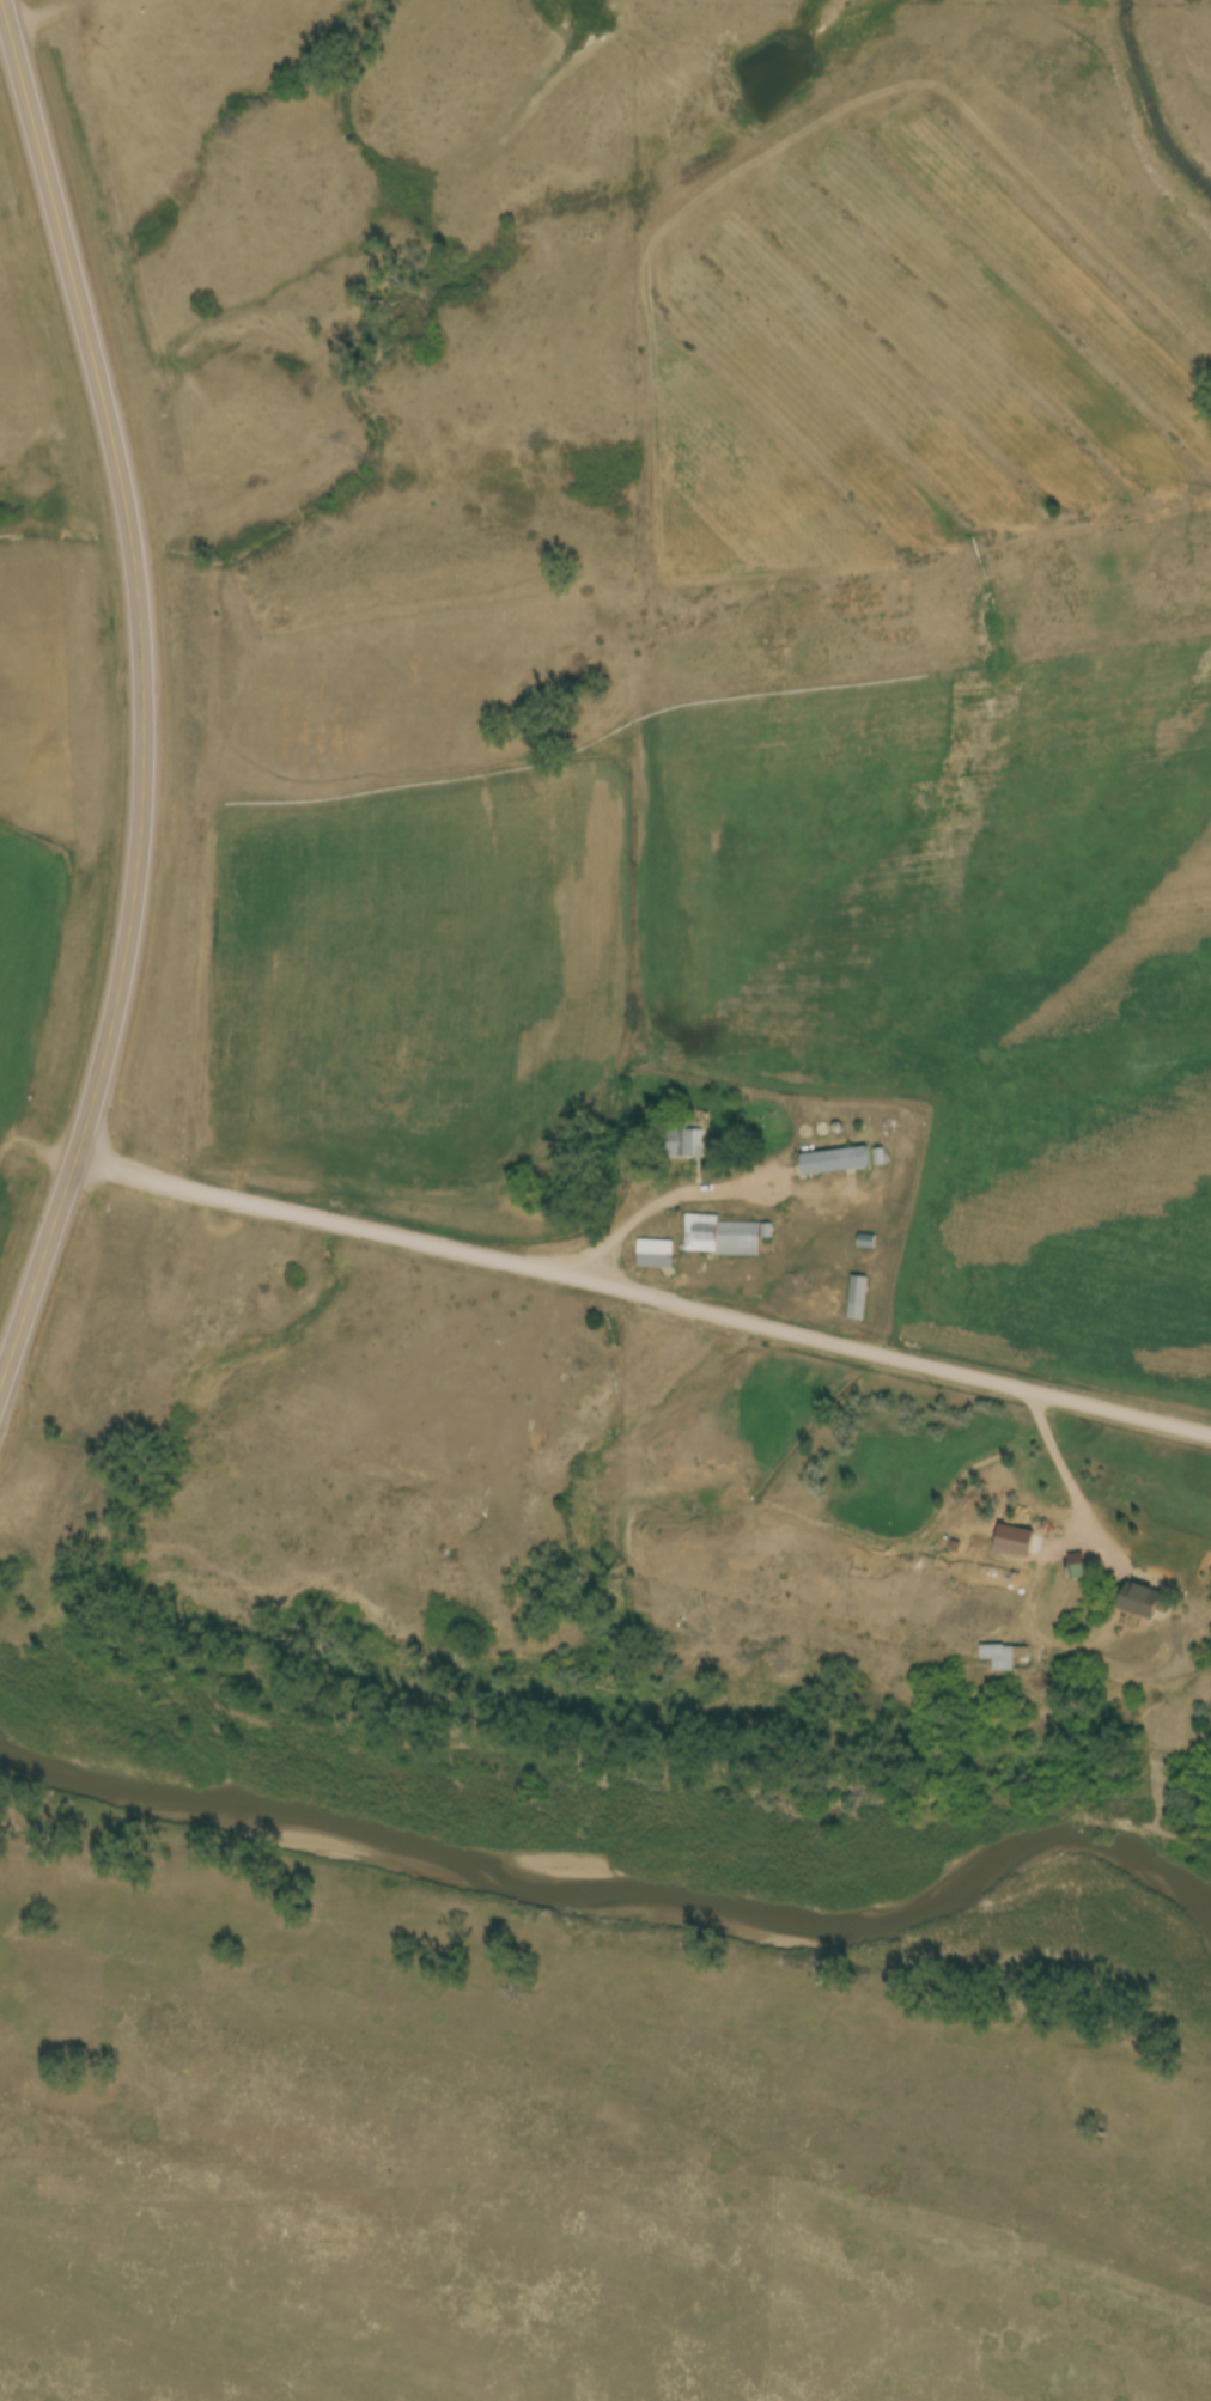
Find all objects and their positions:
road: (154, 707)
building: (686, 1144)
building: (835, 1162)
building: (723, 1237)
building: (656, 1254)
road: (649, 1296)
building: (859, 1298)
building: (1142, 1601)
building: (1004, 1657)
river: (623, 1891)

